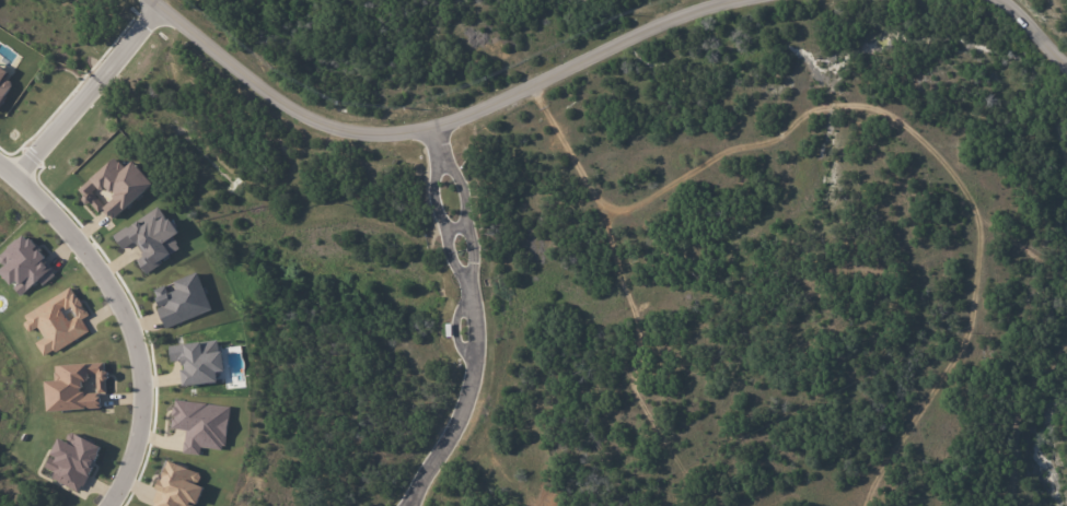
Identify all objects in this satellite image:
road: (1028, 25)
building: (3, 83)
road: (89, 92)
road: (465, 106)
building: (114, 187)
building: (150, 238)
building: (24, 266)
building: (181, 301)
road: (473, 317)
road: (116, 321)
building: (198, 362)
building: (76, 386)
building: (200, 425)
building: (72, 460)
building: (177, 486)

